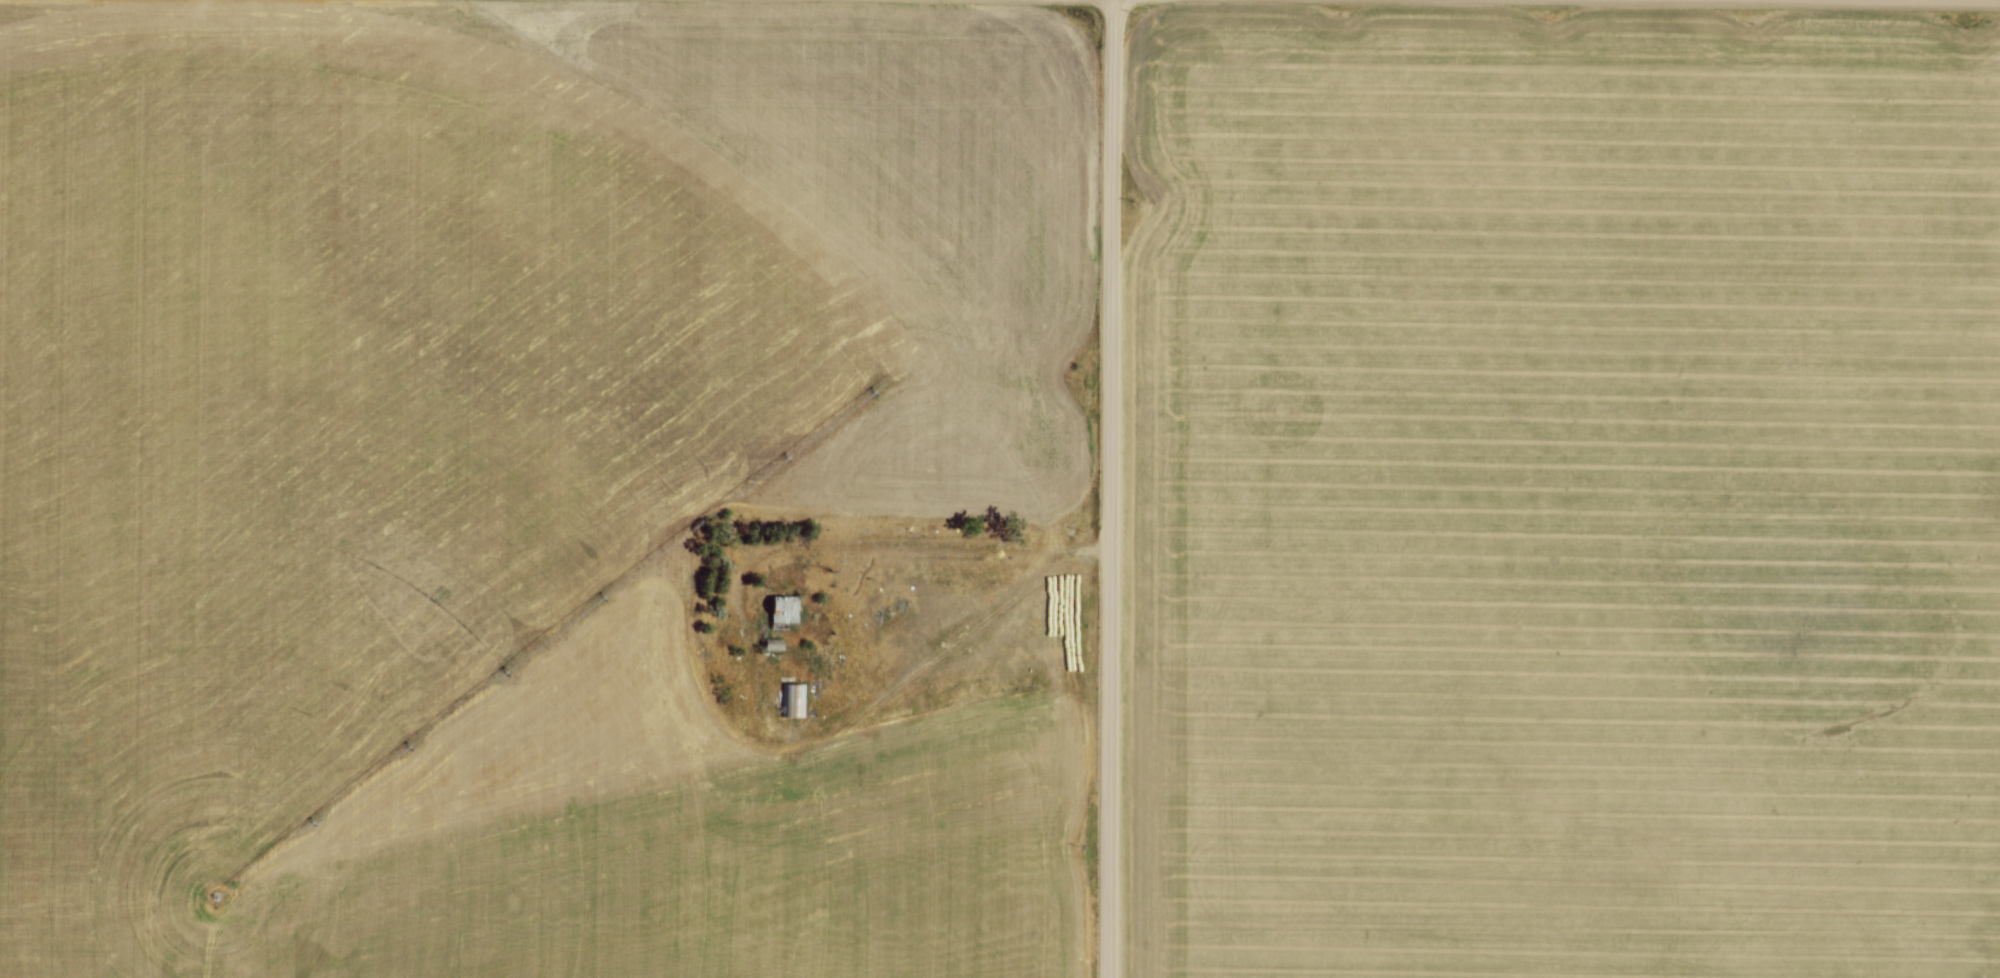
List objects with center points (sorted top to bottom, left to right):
road: (1932, 0)
crop: (520, 476)
road: (1113, 488)
crop: (1564, 499)
road: (784, 545)
road: (1099, 550)
building: (782, 611)
building: (772, 645)
building: (795, 698)

